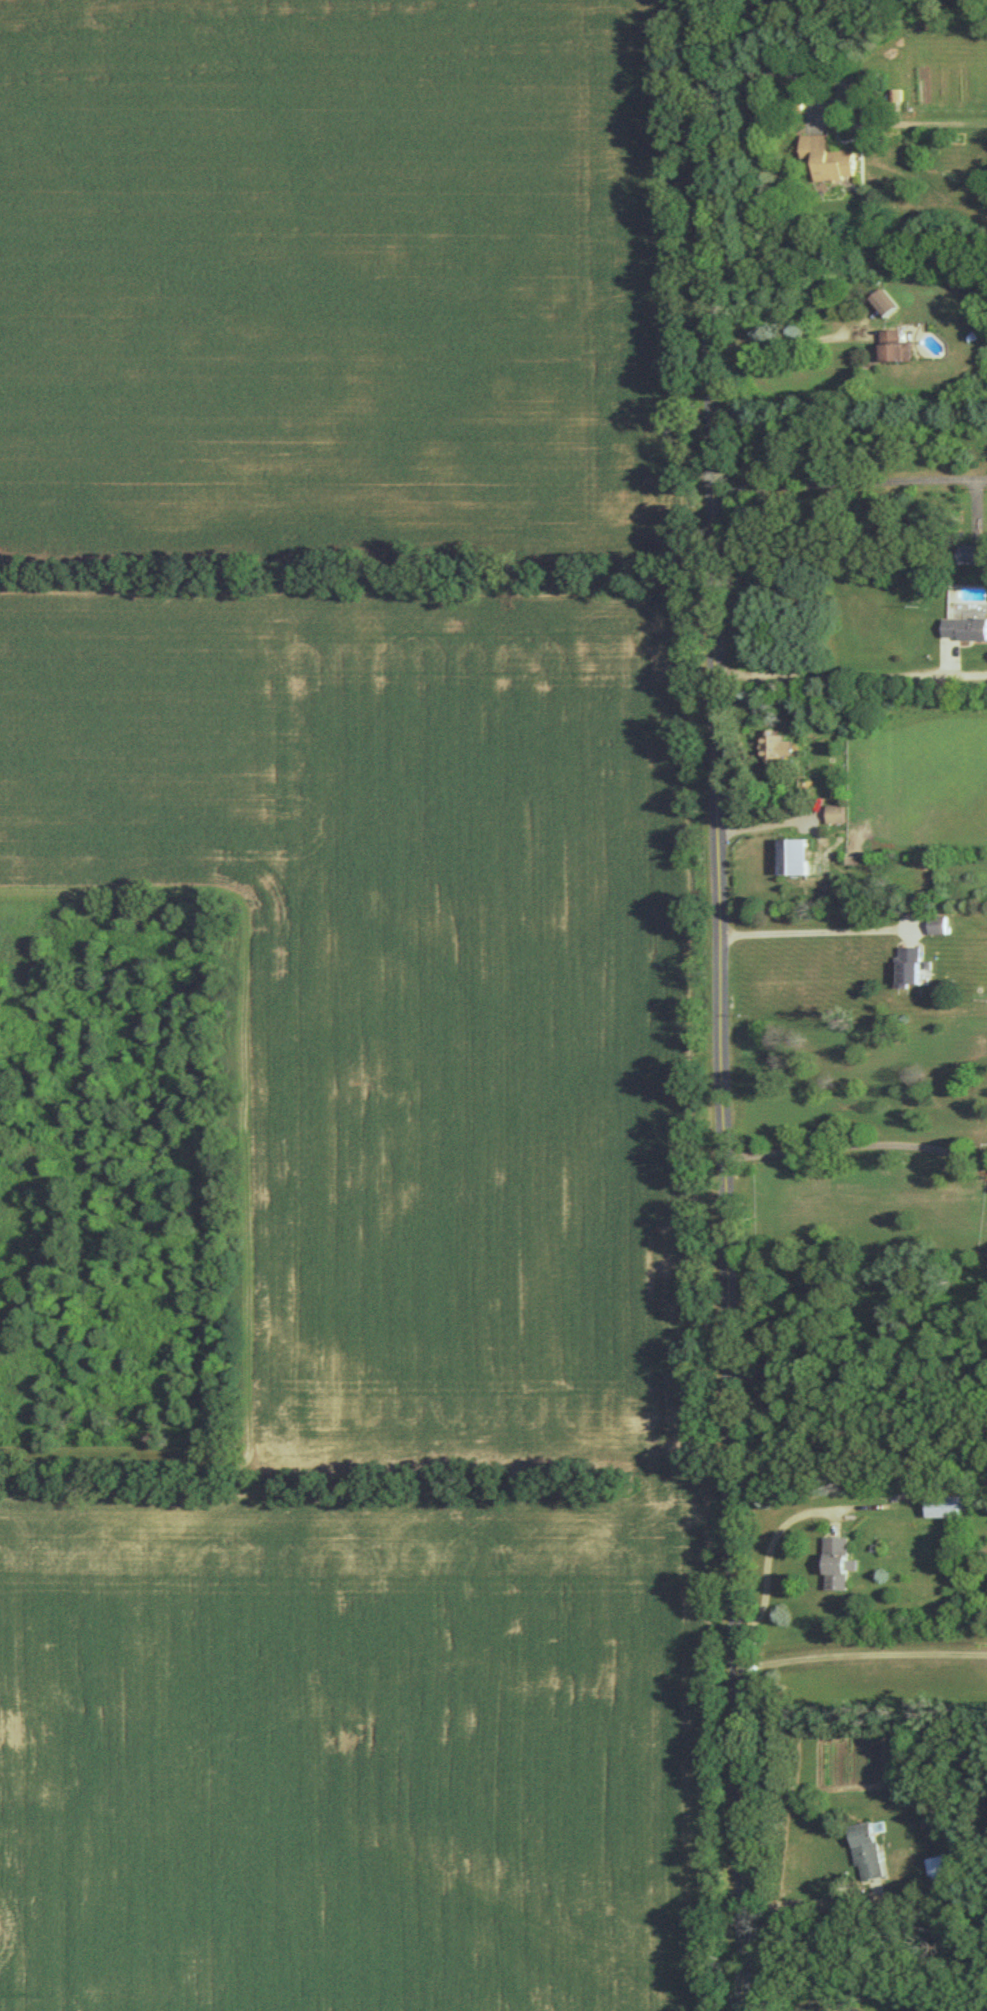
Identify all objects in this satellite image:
road: (786, 74)
building: (831, 157)
building: (884, 301)
road: (783, 340)
building: (890, 346)
building: (907, 350)
road: (849, 481)
building: (973, 552)
building: (965, 627)
road: (851, 675)
building: (778, 745)
building: (836, 812)
road: (768, 824)
building: (795, 855)
building: (940, 924)
road: (814, 931)
building: (912, 964)
road: (721, 1005)
road: (856, 1143)
road: (845, 1449)
building: (947, 1505)
road: (771, 1557)
building: (839, 1561)
road: (860, 1654)
building: (867, 1849)
road: (808, 1903)

